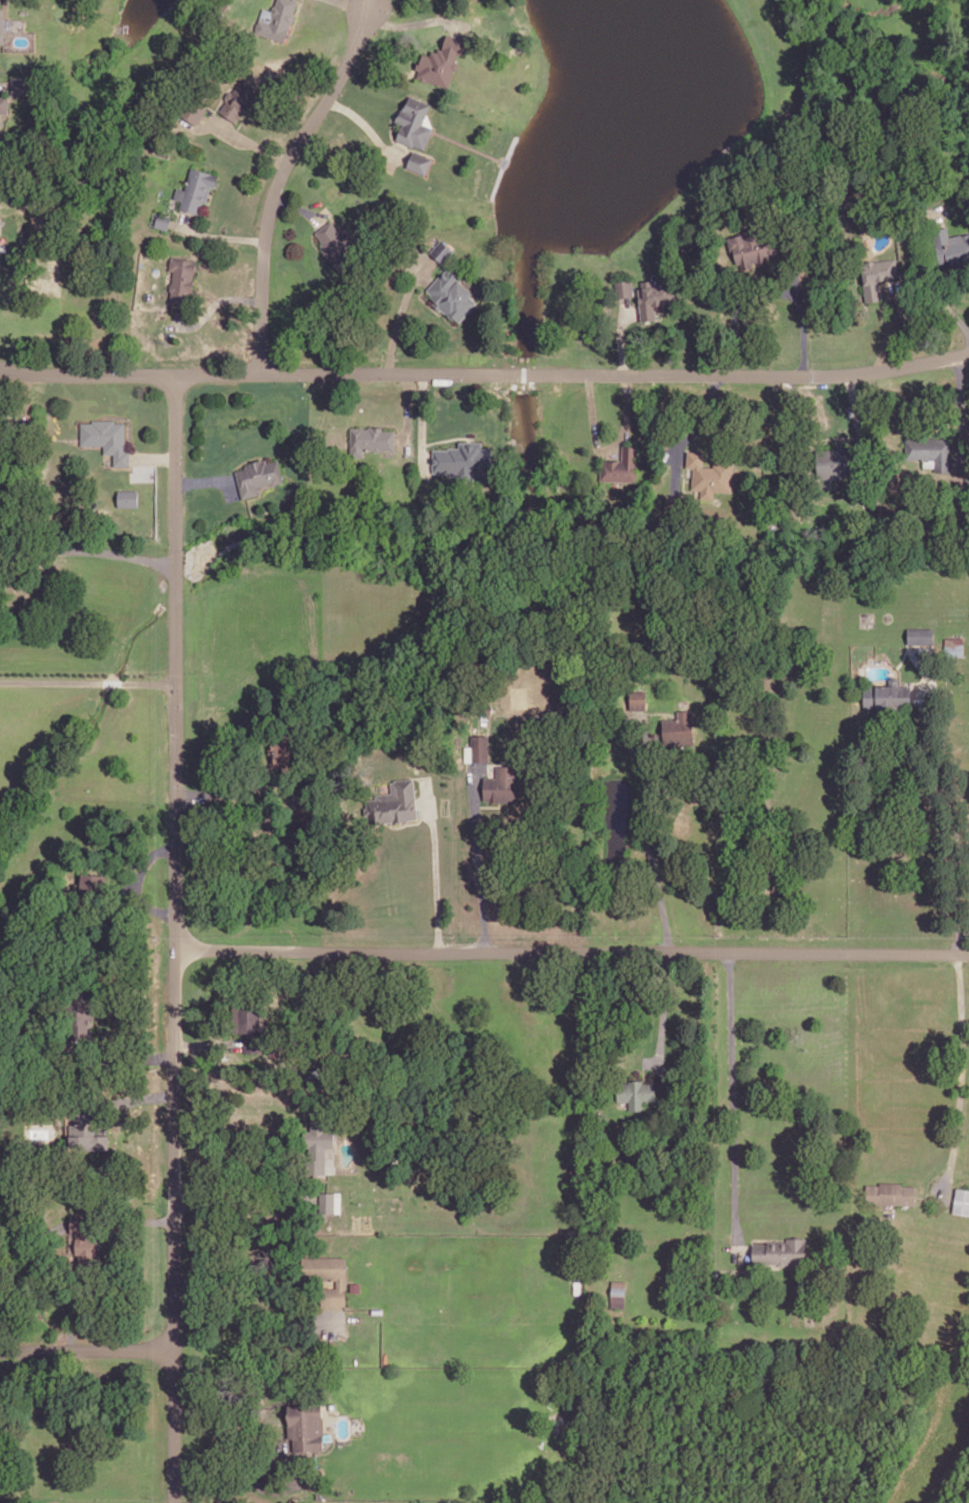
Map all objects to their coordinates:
road: (353, 4)
road: (370, 4)
road: (373, 4)
road: (297, 14)
building: (277, 20)
road: (412, 22)
building: (1, 27)
building: (440, 60)
road: (2, 84)
building: (22, 84)
building: (3, 103)
building: (232, 109)
building: (193, 110)
building: (414, 123)
road: (367, 125)
road: (247, 139)
road: (466, 144)
pier: (503, 160)
building: (419, 161)
road: (280, 179)
building: (195, 189)
road: (299, 208)
building: (162, 220)
road: (218, 234)
building: (335, 244)
building: (745, 244)
building: (951, 245)
building: (441, 250)
road: (923, 271)
building: (876, 275)
building: (181, 278)
building: (623, 287)
building: (452, 294)
building: (650, 297)
road: (205, 304)
road: (401, 313)
road: (621, 335)
road: (885, 336)
road: (803, 338)
road: (485, 372)
road: (958, 373)
road: (854, 407)
road: (407, 410)
building: (1, 423)
road: (423, 424)
road: (690, 434)
building: (106, 436)
road: (449, 437)
building: (370, 438)
flagpole: (429, 446)
road: (607, 449)
building: (931, 450)
road: (154, 457)
building: (464, 460)
building: (836, 461)
building: (620, 465)
building: (710, 474)
building: (257, 475)
road: (210, 479)
building: (128, 497)
road: (89, 549)
building: (920, 634)
building: (954, 644)
road: (89, 680)
building: (886, 693)
building: (637, 699)
building: (679, 723)
building: (478, 747)
building: (279, 750)
building: (500, 783)
road: (228, 787)
building: (394, 802)
road: (952, 818)
road: (409, 822)
road: (477, 858)
road: (435, 864)
road: (135, 881)
building: (92, 883)
road: (657, 884)
road: (176, 938)
road: (572, 952)
building: (76, 1009)
road: (663, 1013)
building: (244, 1017)
road: (208, 1042)
road: (134, 1058)
road: (961, 1076)
building: (635, 1091)
road: (145, 1097)
road: (733, 1107)
building: (80, 1128)
building: (316, 1139)
building: (891, 1192)
building: (961, 1200)
road: (243, 1201)
building: (330, 1203)
road: (152, 1220)
building: (80, 1227)
building: (780, 1251)
building: (326, 1274)
building: (355, 1286)
building: (618, 1291)
road: (254, 1313)
road: (86, 1349)
building: (305, 1424)

